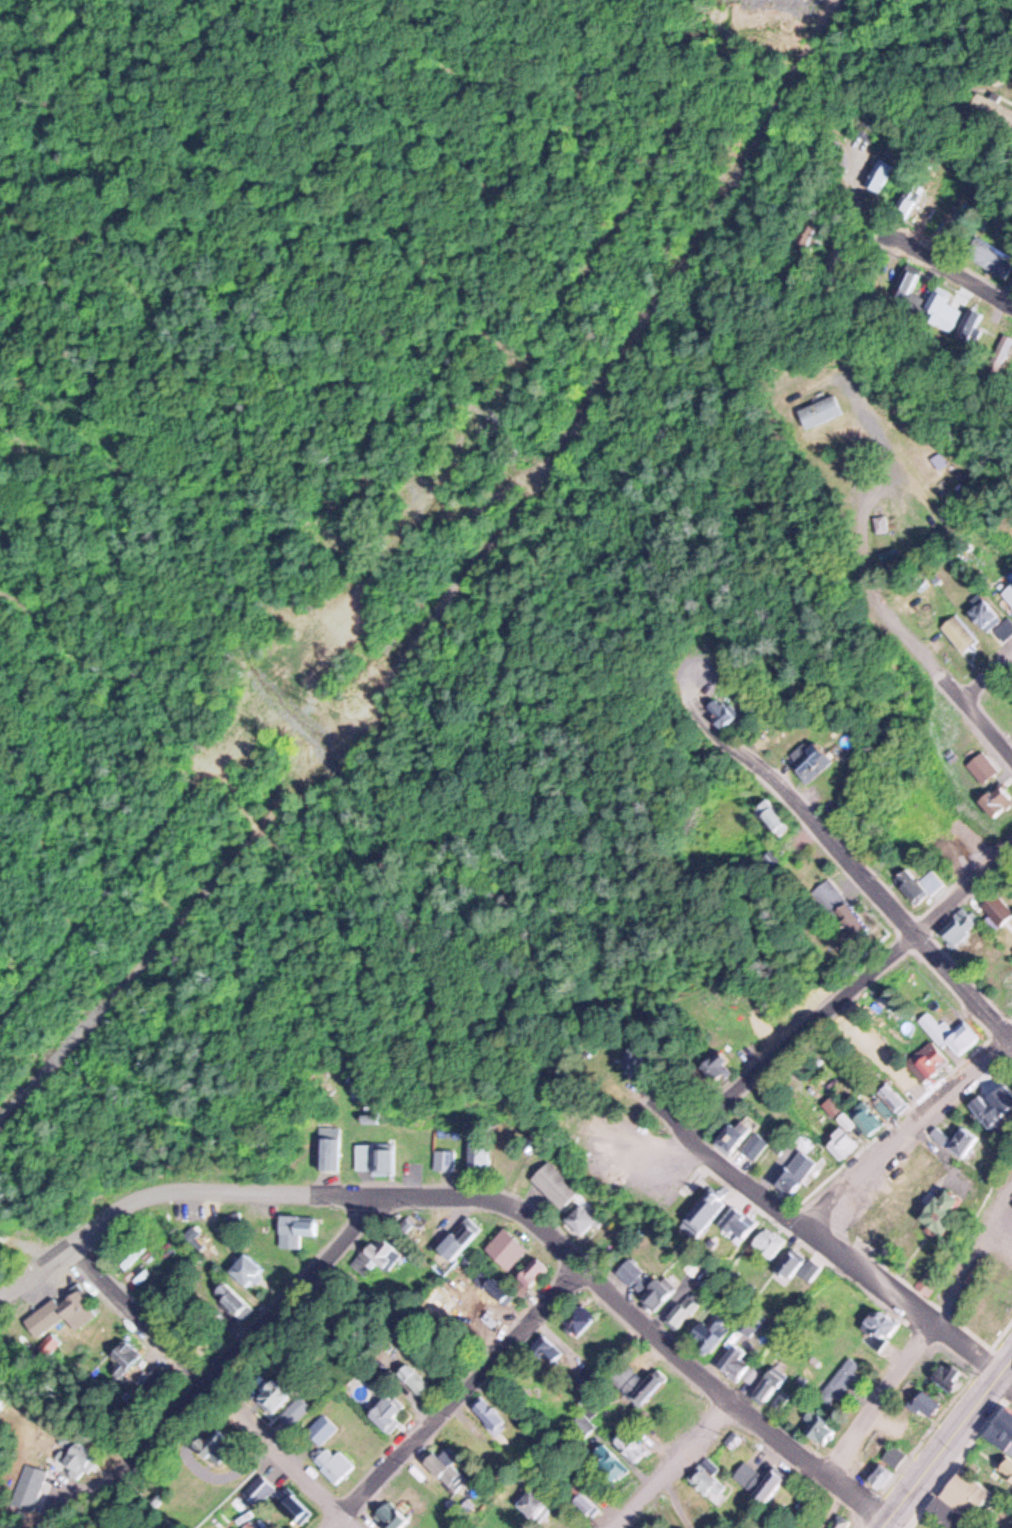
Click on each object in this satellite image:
building: (992, 105)
building: (867, 133)
building: (879, 173)
building: (910, 197)
building: (809, 237)
building: (991, 256)
road: (946, 261)
building: (910, 284)
building: (958, 318)
building: (821, 411)
road: (887, 483)
building: (883, 523)
building: (937, 578)
building: (1009, 593)
road: (458, 598)
building: (986, 615)
building: (1005, 629)
building: (960, 632)
road: (944, 665)
road: (989, 671)
building: (719, 709)
building: (807, 759)
building: (981, 766)
building: (993, 800)
building: (774, 816)
building: (771, 857)
road: (854, 860)
building: (920, 884)
building: (840, 906)
building: (958, 925)
road: (853, 984)
building: (951, 1031)
road: (638, 1060)
building: (930, 1063)
building: (718, 1068)
building: (892, 1095)
building: (1001, 1098)
building: (832, 1107)
building: (886, 1110)
building: (983, 1111)
building: (847, 1120)
building: (869, 1120)
road: (906, 1130)
building: (734, 1135)
building: (958, 1139)
building: (753, 1145)
building: (841, 1145)
building: (328, 1154)
building: (383, 1158)
building: (482, 1159)
building: (447, 1160)
building: (793, 1170)
building: (555, 1187)
road: (180, 1188)
building: (897, 1196)
building: (703, 1211)
building: (580, 1217)
building: (735, 1221)
building: (296, 1228)
building: (461, 1238)
building: (767, 1243)
building: (507, 1250)
road: (845, 1252)
building: (378, 1257)
building: (789, 1264)
building: (243, 1268)
building: (631, 1270)
building: (810, 1270)
building: (533, 1271)
building: (498, 1288)
building: (661, 1292)
building: (225, 1301)
building: (681, 1308)
building: (71, 1309)
road: (266, 1309)
building: (580, 1318)
building: (755, 1324)
road: (652, 1325)
building: (884, 1327)
building: (712, 1333)
building: (547, 1350)
building: (120, 1354)
building: (736, 1362)
road: (1008, 1371)
building: (410, 1378)
building: (947, 1379)
building: (844, 1381)
building: (645, 1385)
building: (768, 1385)
road: (218, 1388)
building: (272, 1394)
road: (458, 1397)
road: (885, 1399)
building: (923, 1403)
building: (391, 1412)
building: (586, 1424)
building: (325, 1428)
building: (820, 1428)
building: (1003, 1431)
building: (210, 1441)
road: (946, 1443)
building: (633, 1444)
building: (84, 1456)
building: (336, 1463)
building: (611, 1464)
road: (675, 1464)
building: (889, 1466)
building: (1008, 1469)
building: (443, 1473)
building: (763, 1480)
building: (710, 1481)
building: (34, 1482)
building: (966, 1492)
building: (583, 1501)
building: (532, 1504)
building: (296, 1506)
building: (946, 1513)
building: (390, 1516)
building: (840, 1521)
road: (4, 1523)

